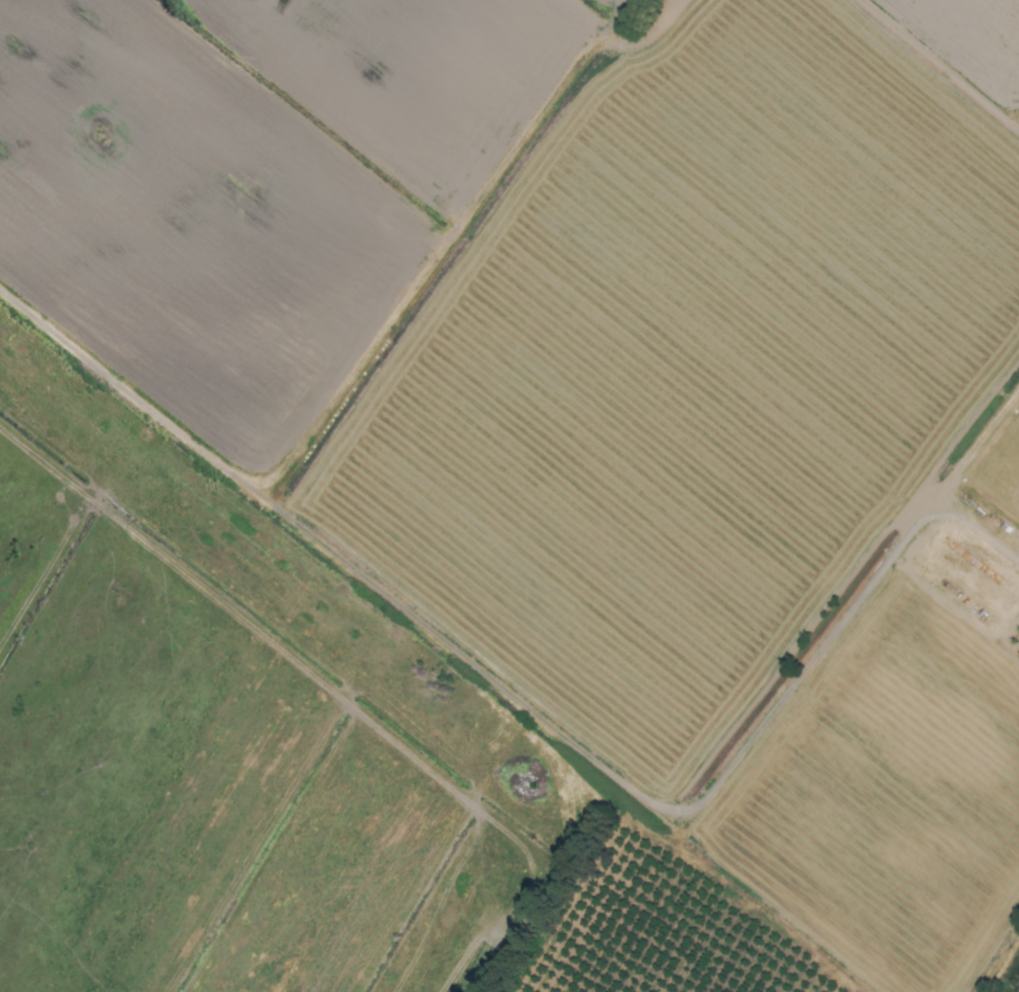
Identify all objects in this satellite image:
crop: (509, 496)
road: (529, 712)

